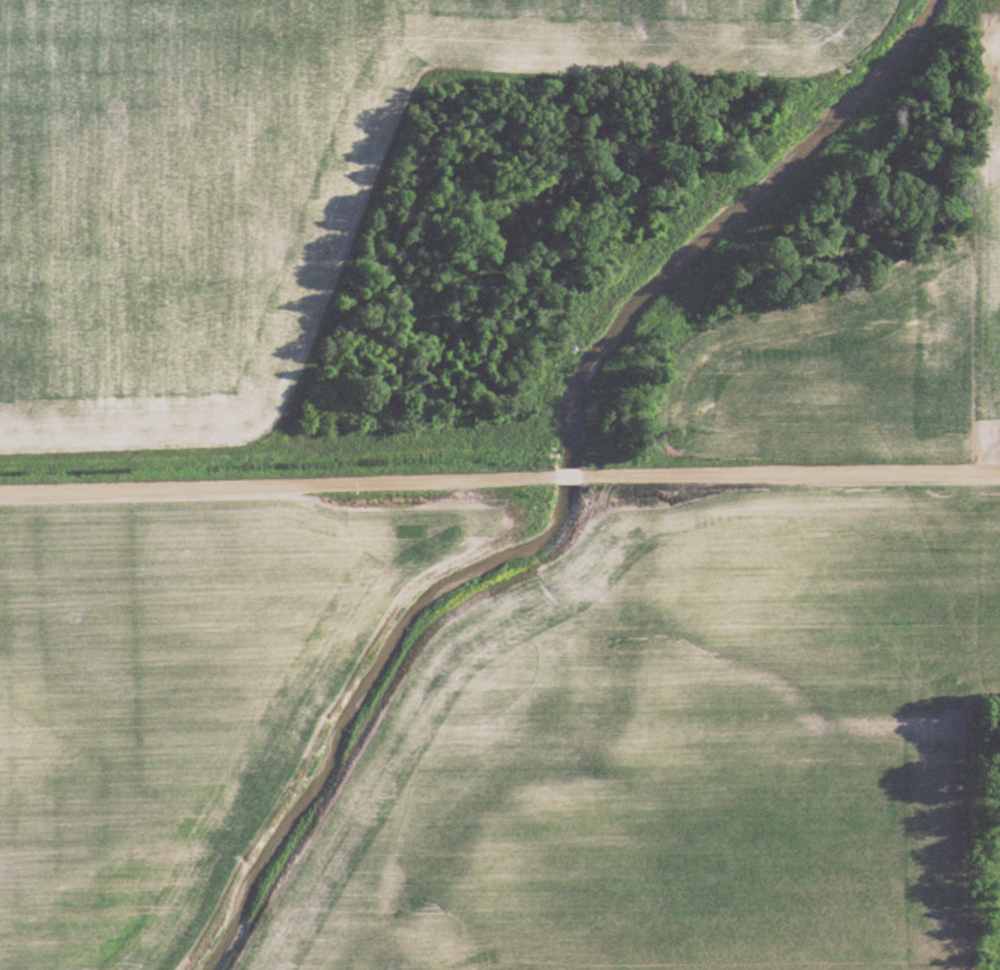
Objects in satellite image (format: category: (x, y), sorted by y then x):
road: (806, 475)
road: (560, 479)
road: (254, 485)
river: (565, 489)

